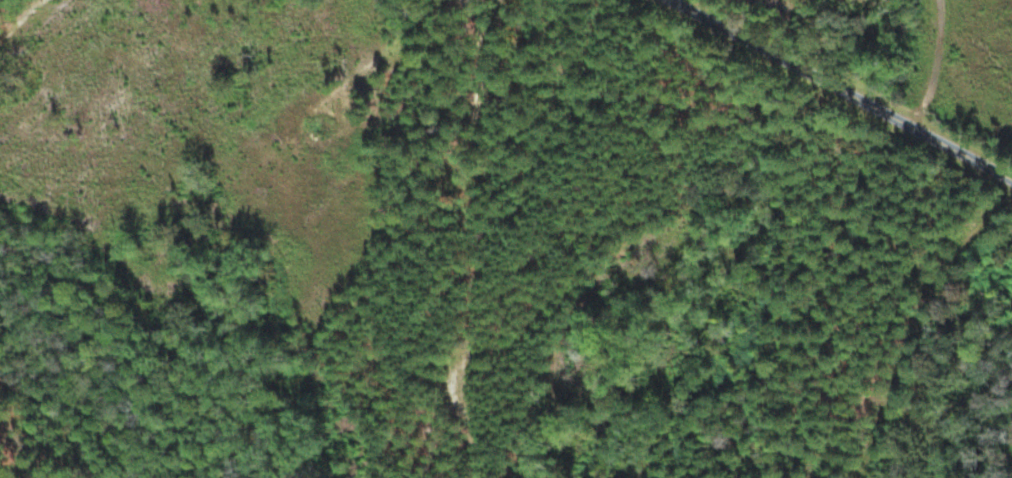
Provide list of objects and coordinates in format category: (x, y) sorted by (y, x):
road: (839, 90)

